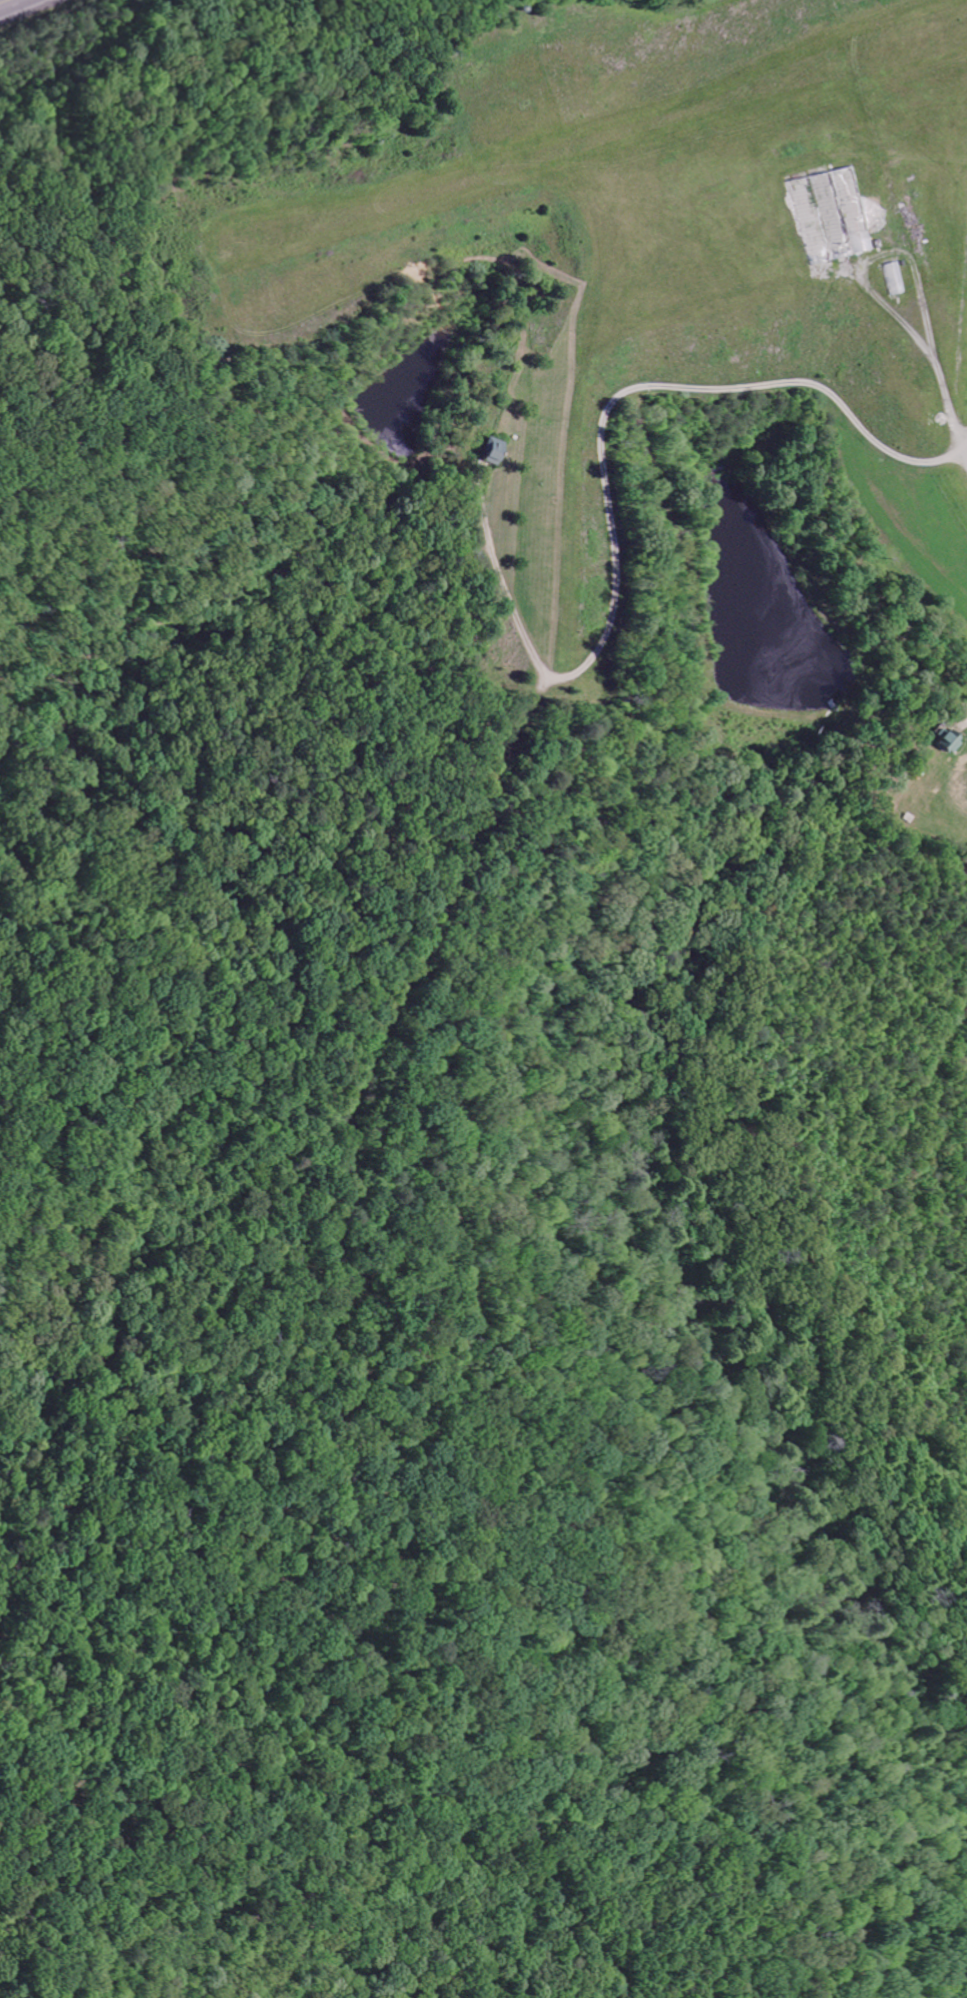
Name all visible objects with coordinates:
road: (15, 5)
airport runway: (603, 134)
building: (489, 455)
road: (613, 474)
building: (946, 744)

